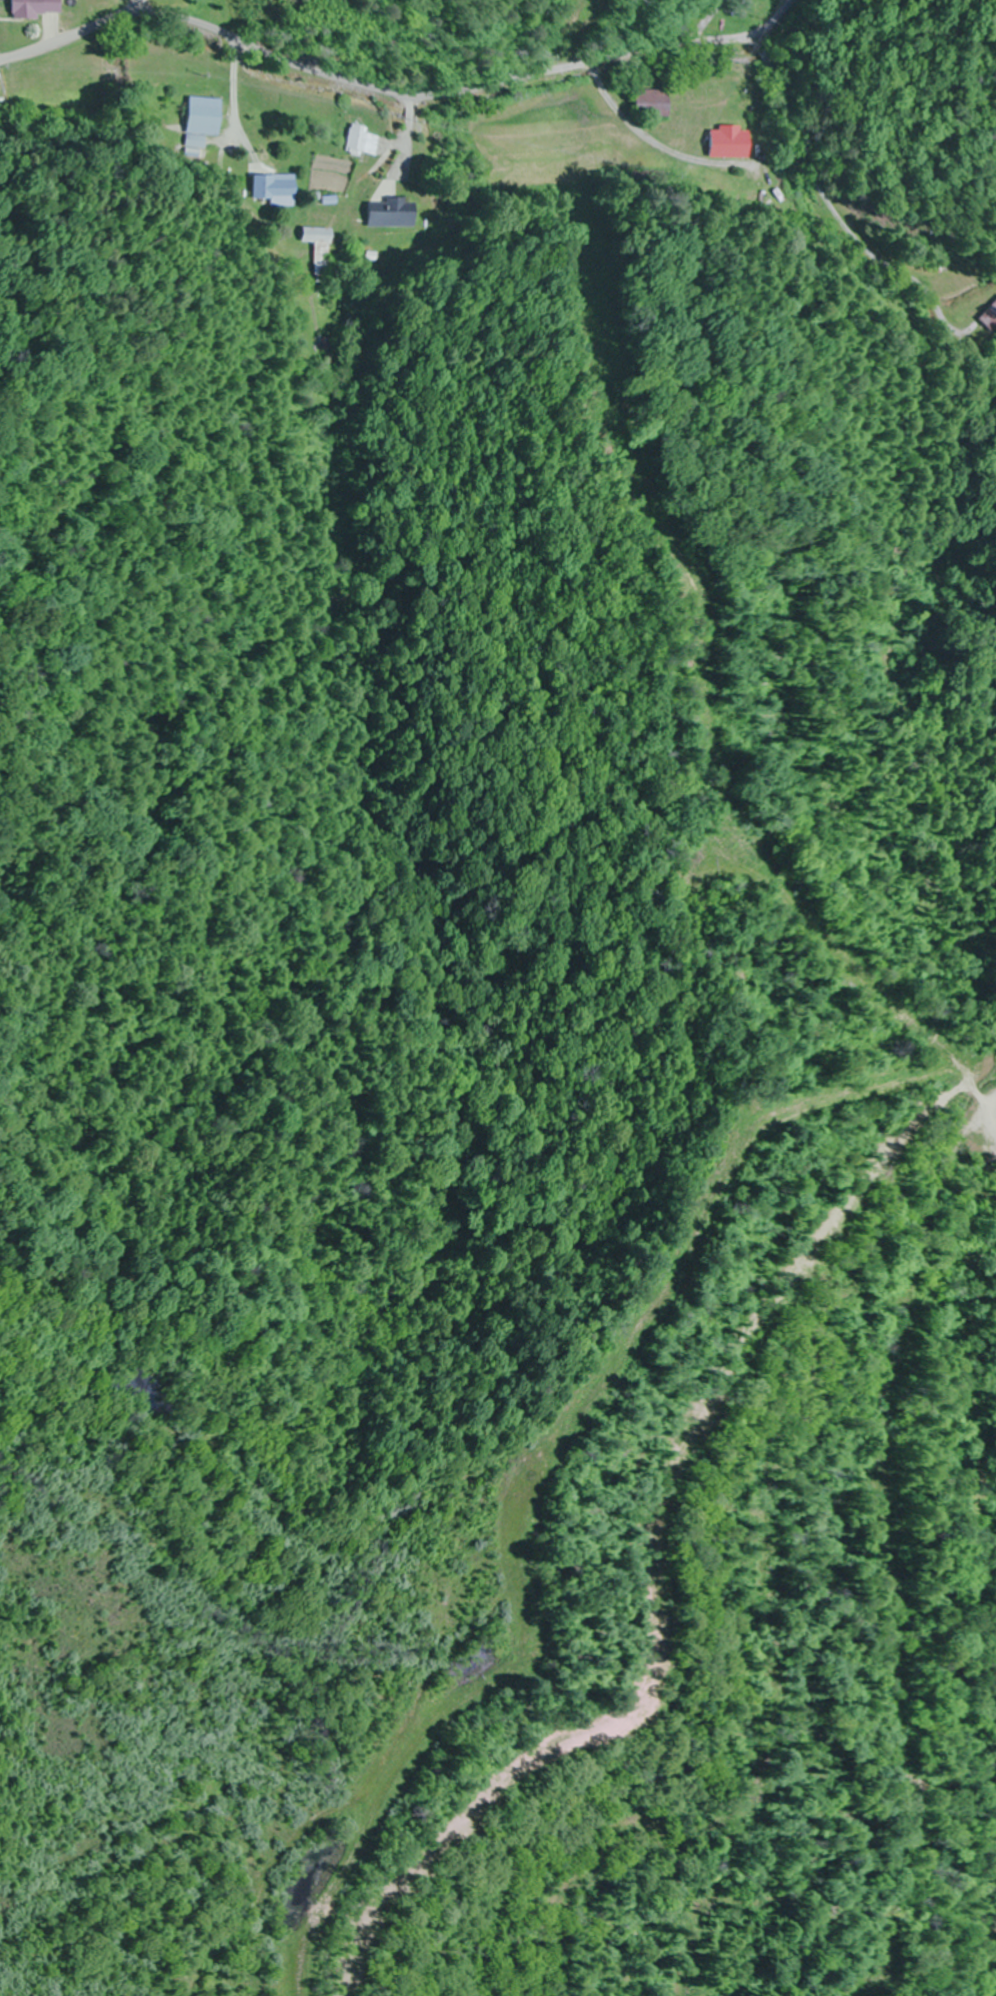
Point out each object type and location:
building: (5, 0)
building: (43, 9)
road: (148, 9)
road: (400, 91)
building: (653, 104)
building: (204, 122)
building: (363, 142)
building: (731, 143)
building: (274, 188)
road: (834, 206)
building: (388, 213)
building: (319, 248)
building: (988, 317)

